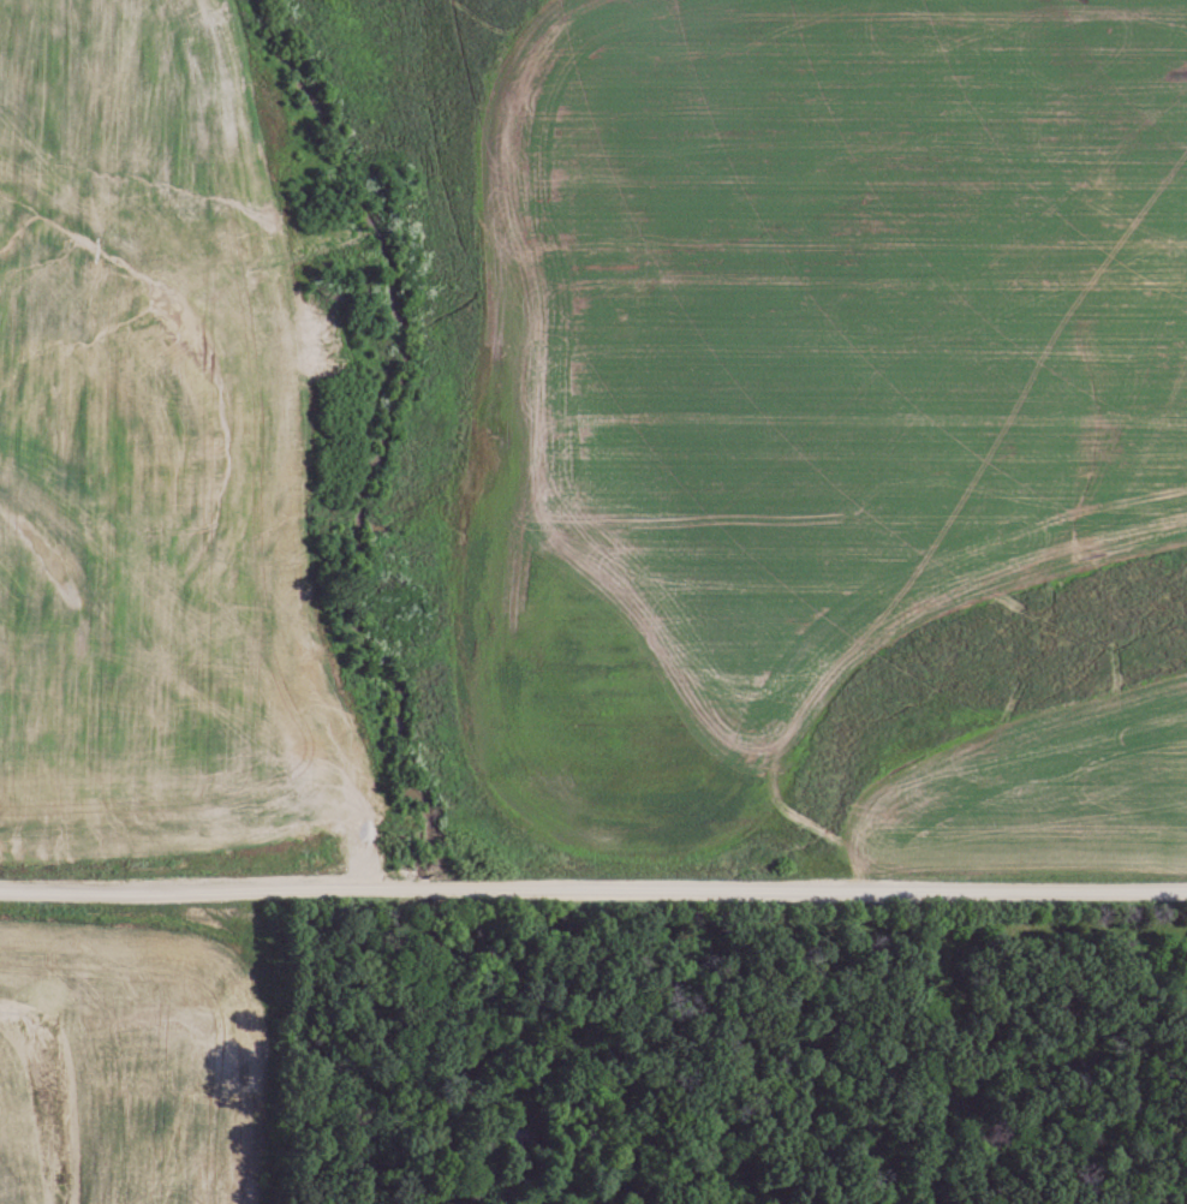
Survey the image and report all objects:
road: (593, 890)

